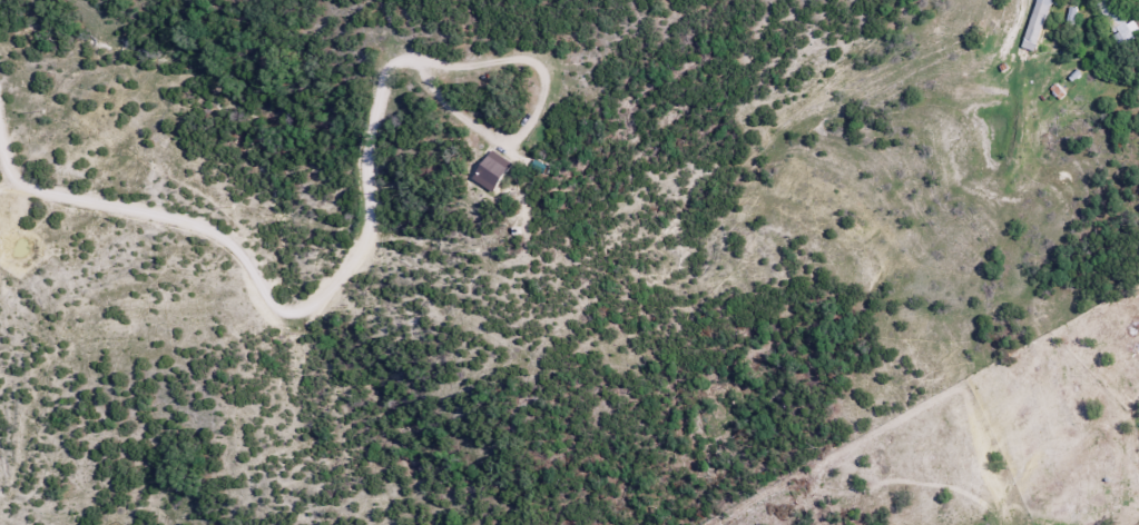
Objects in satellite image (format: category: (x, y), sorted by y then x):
building: (1115, 21)
building: (1033, 24)

